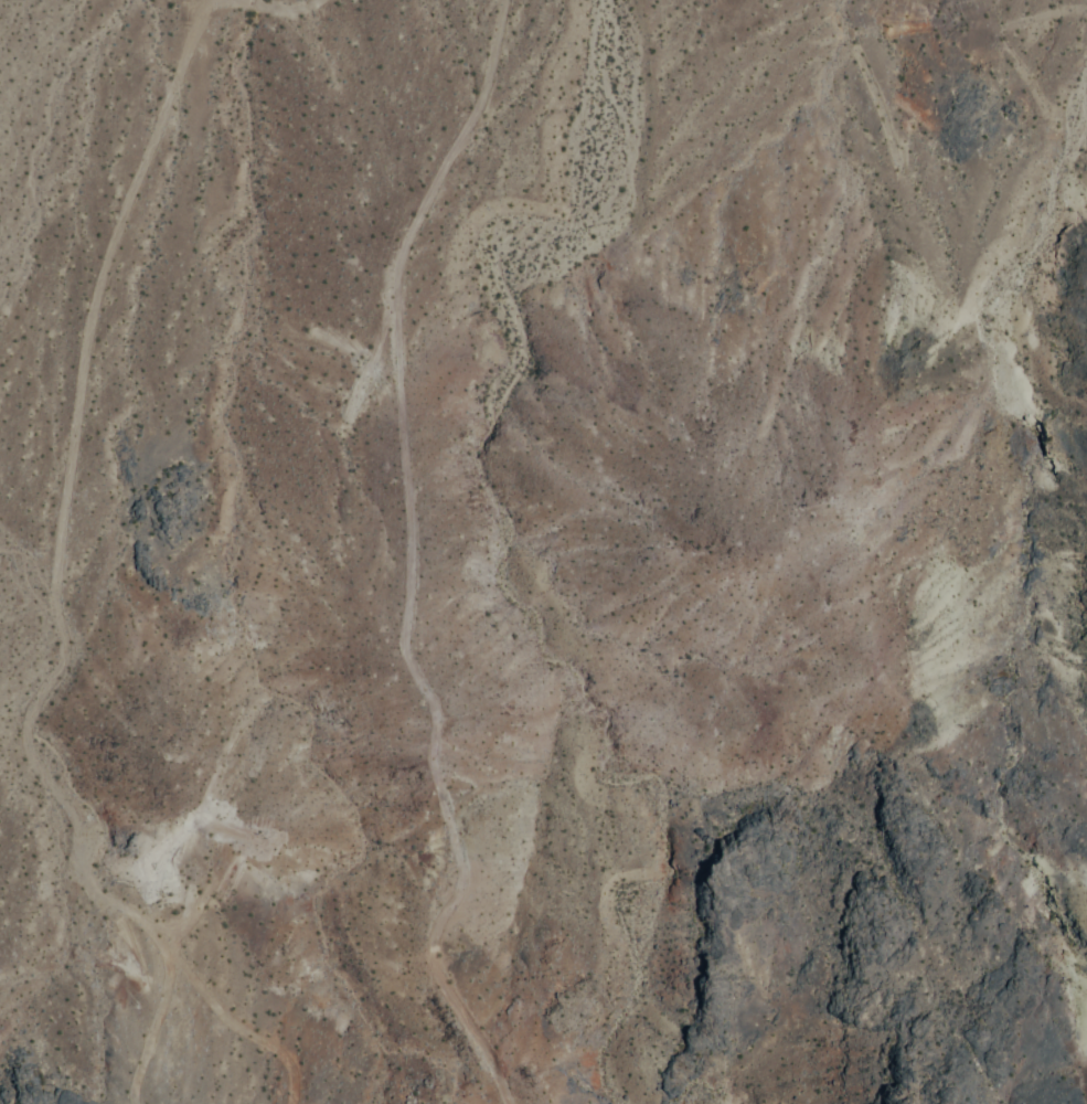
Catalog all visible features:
road: (65, 513)
road: (409, 558)

